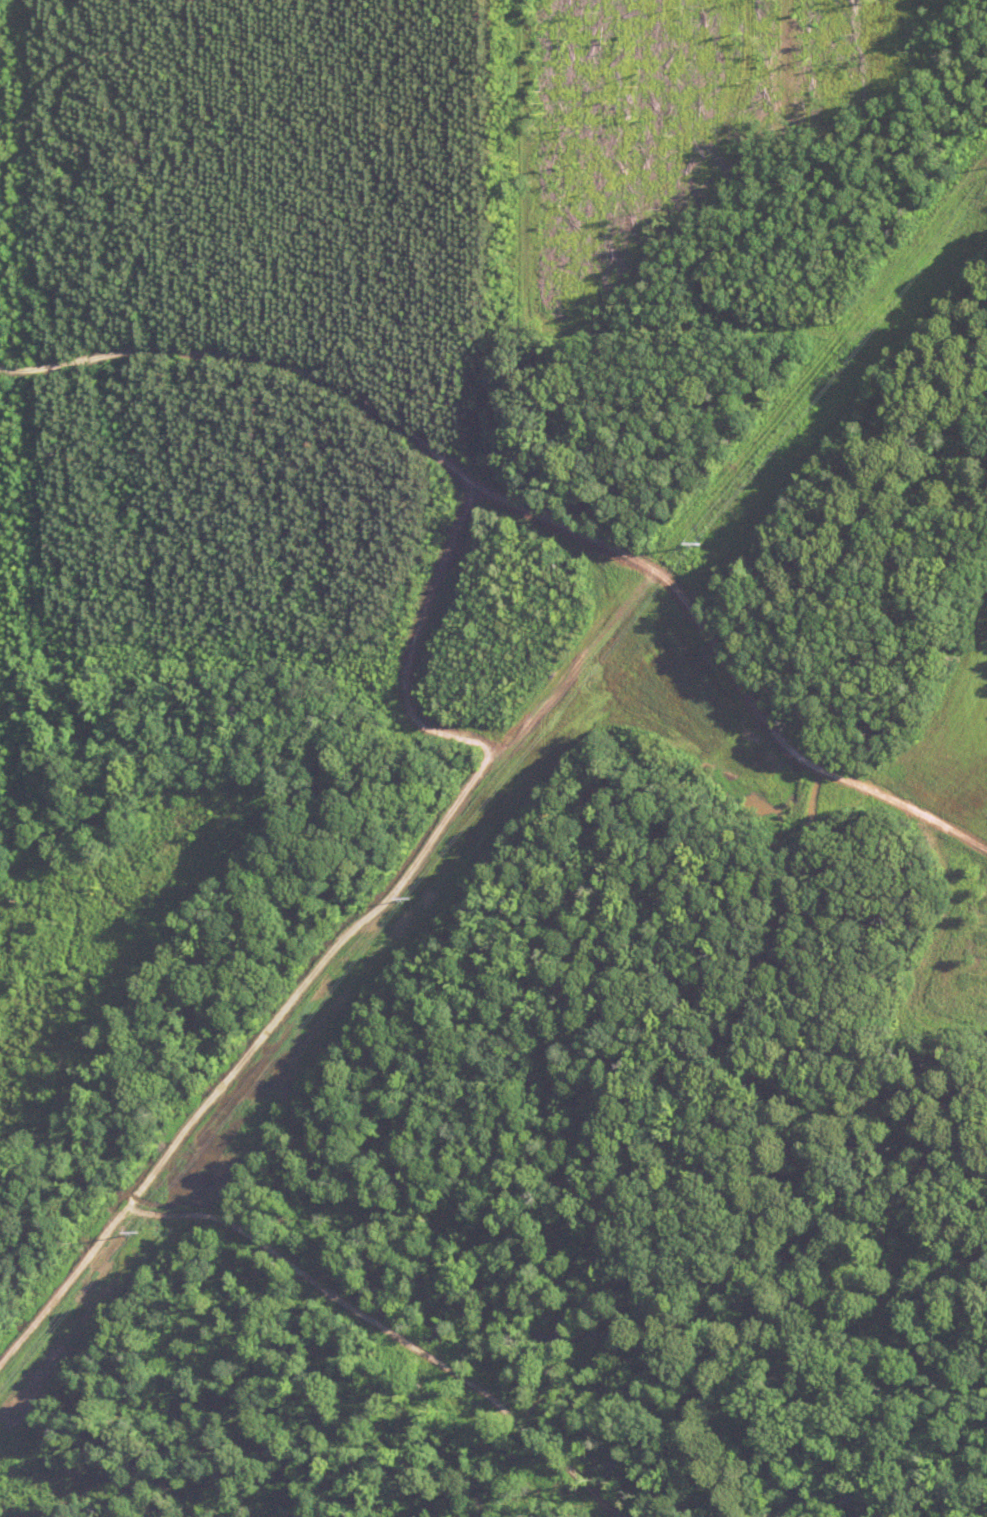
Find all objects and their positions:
power tower: (701, 543)
power tower: (407, 899)
power tower: (137, 1233)

